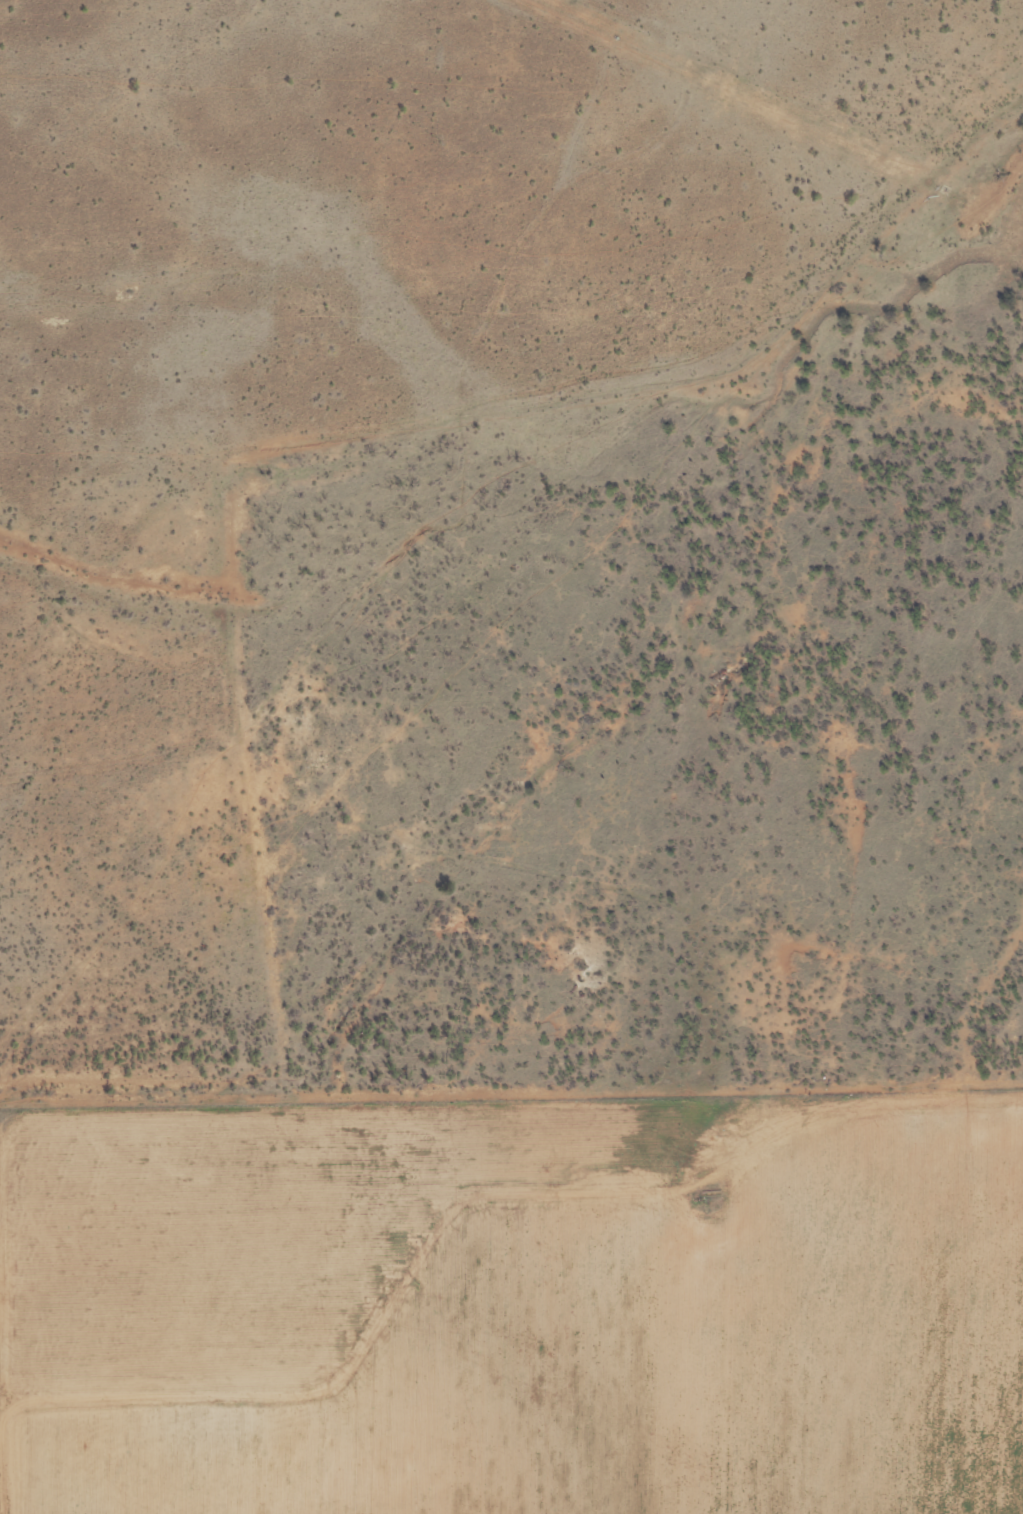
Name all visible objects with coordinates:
road: (560, 1082)

